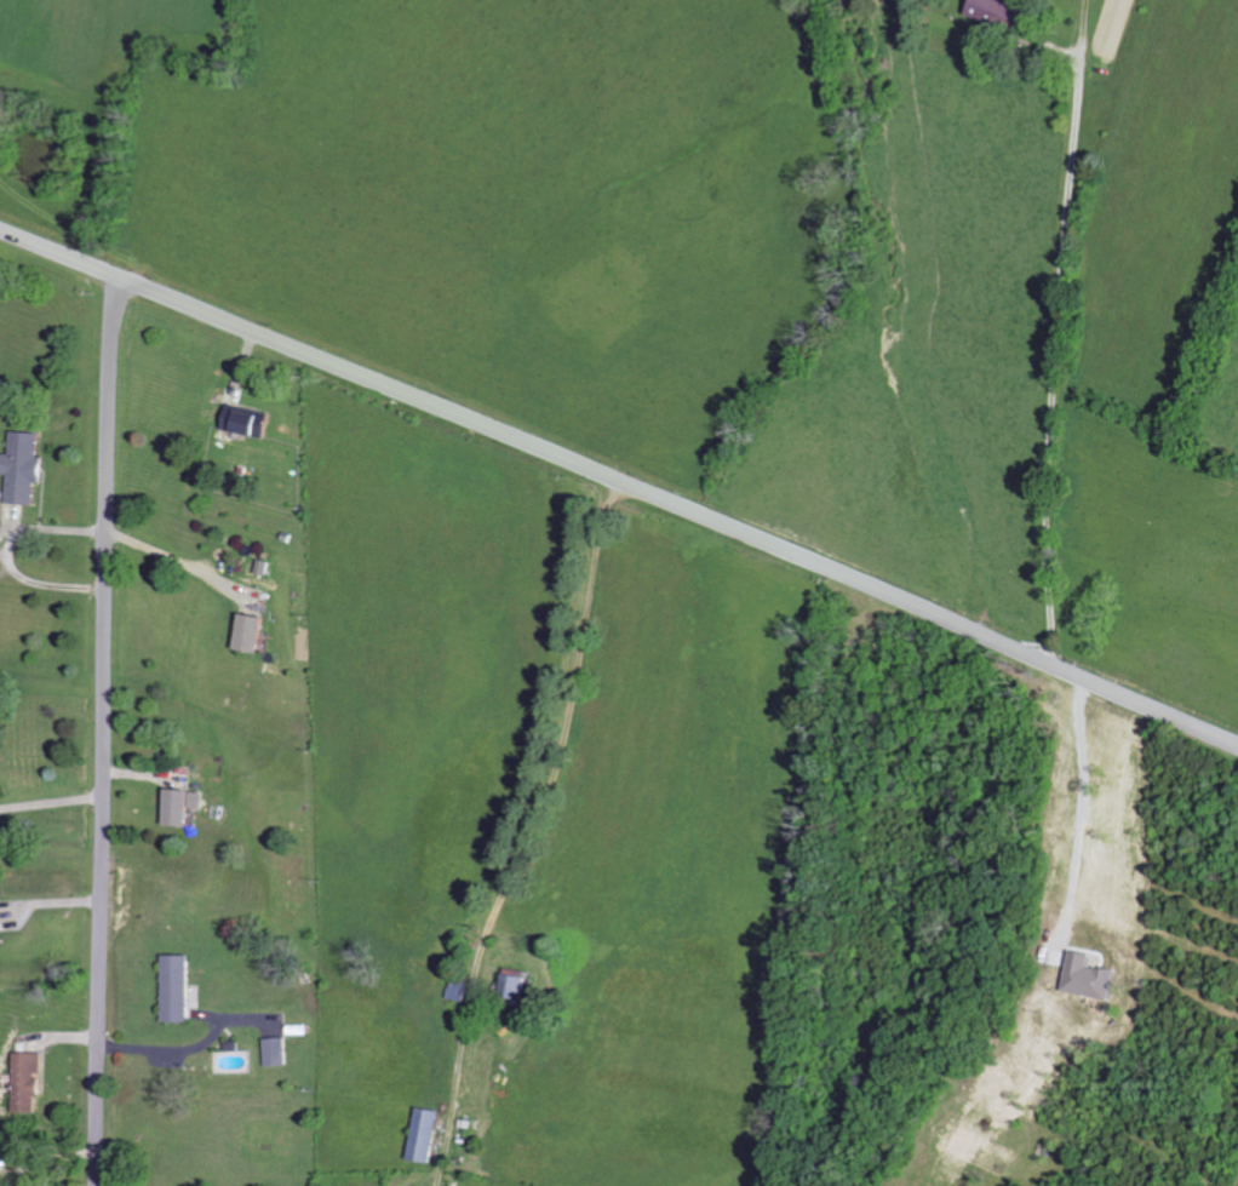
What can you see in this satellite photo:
building: (1003, 13)
road: (1214, 409)
building: (252, 422)
building: (27, 468)
road: (620, 482)
road: (171, 561)
building: (256, 634)
road: (105, 732)
building: (185, 807)
road: (1078, 813)
road: (802, 877)
building: (0, 910)
building: (179, 989)
building: (522, 989)
building: (464, 990)
building: (277, 1052)
building: (30, 1081)
building: (429, 1134)

